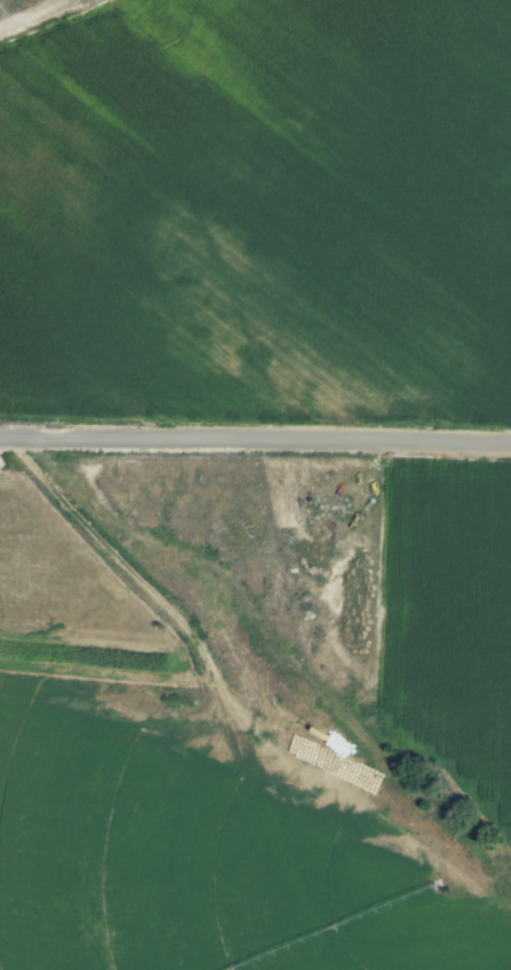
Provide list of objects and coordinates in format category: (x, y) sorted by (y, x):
road: (255, 438)
road: (225, 672)

